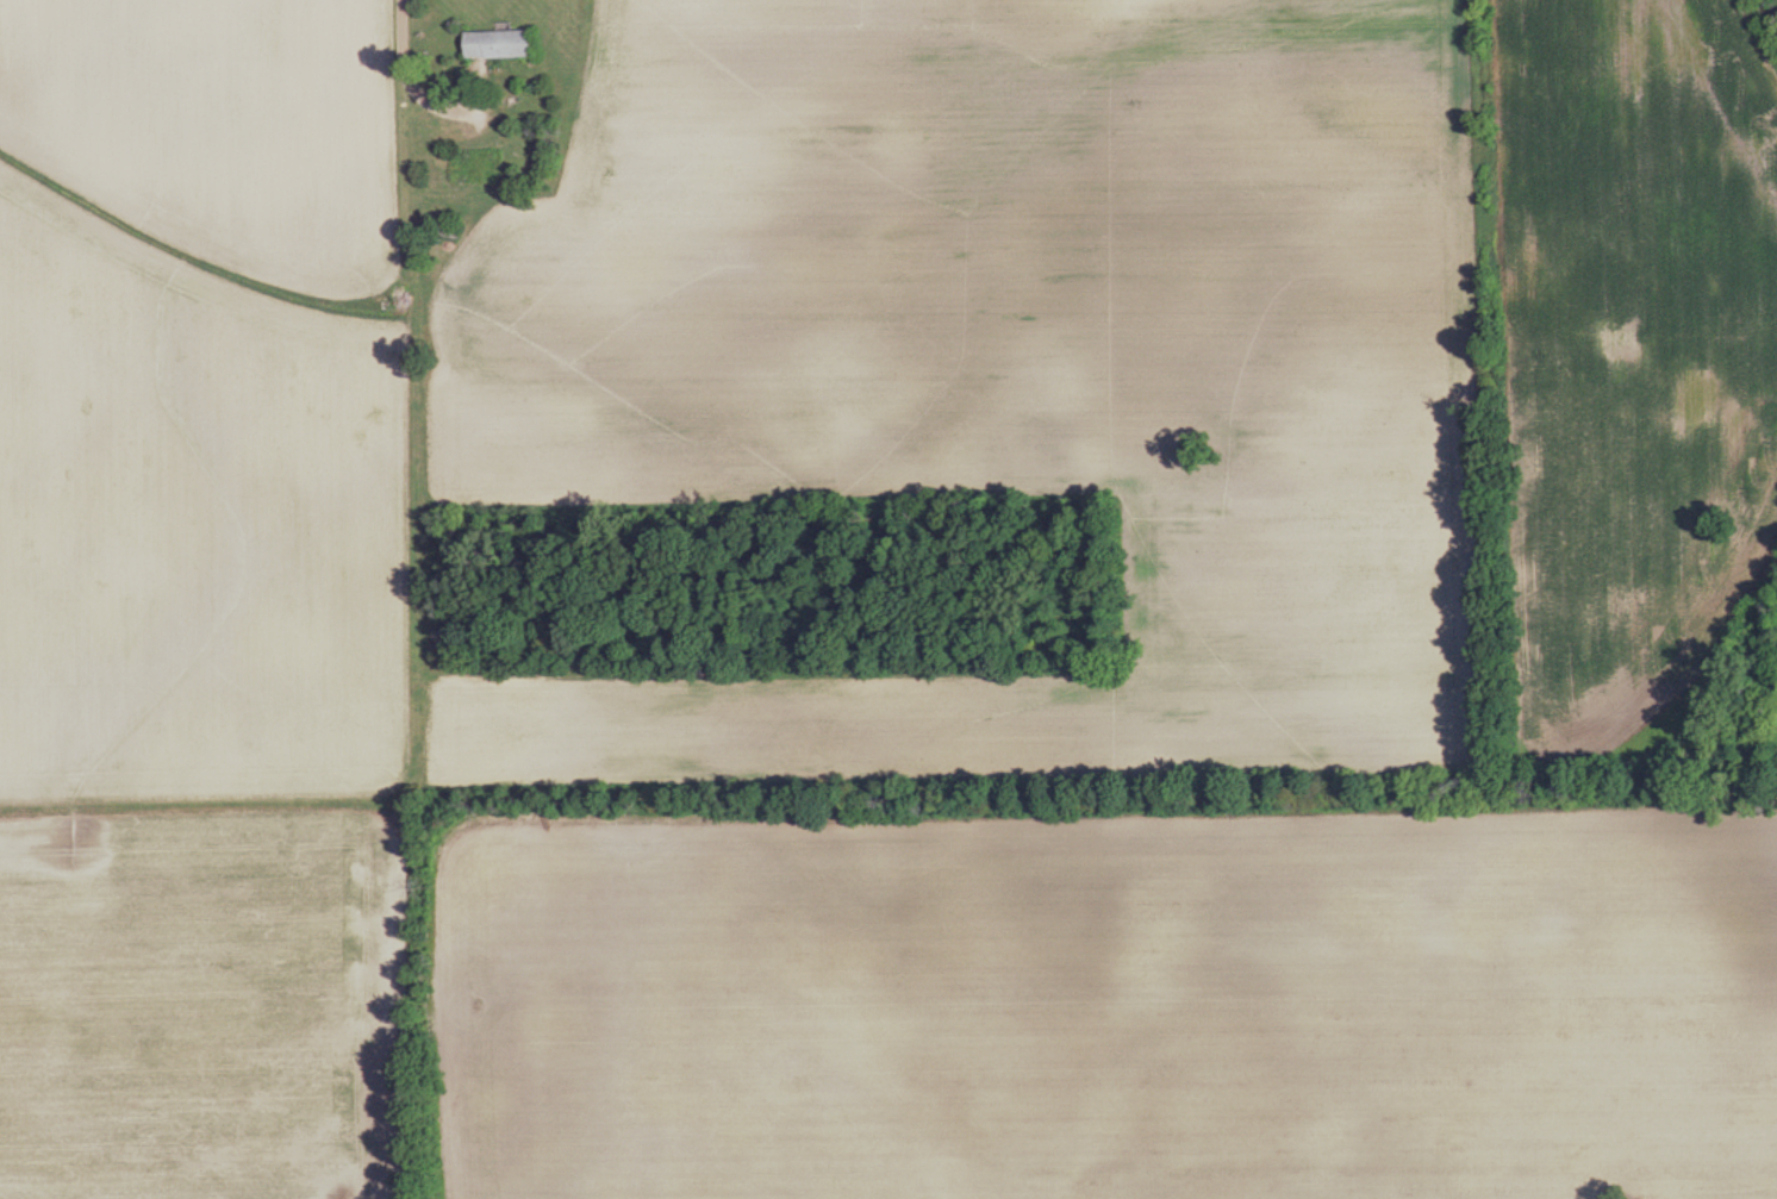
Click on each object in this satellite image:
building: (506, 44)
road: (409, 80)

